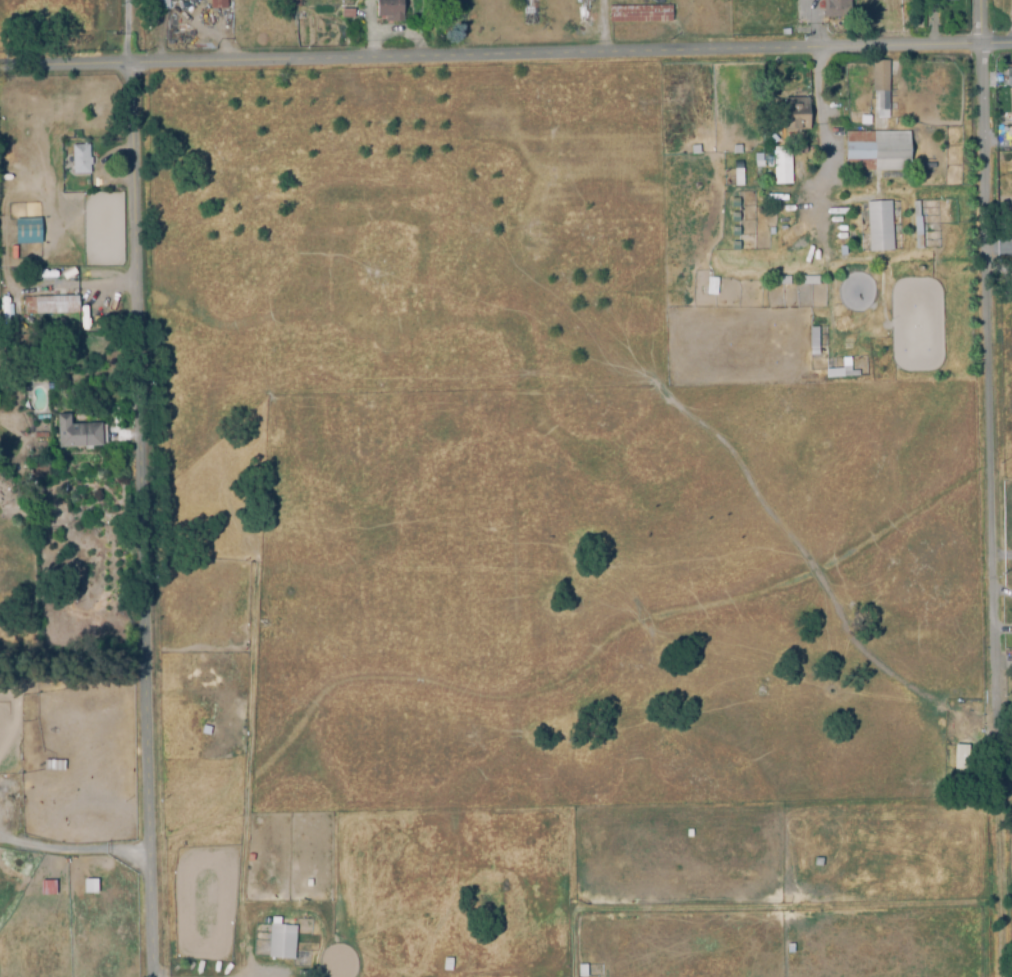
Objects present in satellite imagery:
building: (948, 0)
building: (217, 4)
building: (290, 4)
building: (160, 5)
building: (836, 9)
building: (389, 11)
building: (347, 15)
building: (640, 15)
road: (812, 24)
road: (694, 26)
road: (506, 57)
building: (1008, 79)
building: (879, 84)
building: (796, 115)
road: (818, 136)
building: (798, 149)
building: (877, 152)
building: (80, 160)
building: (781, 166)
building: (917, 216)
building: (1010, 228)
building: (881, 230)
building: (30, 234)
building: (773, 234)
road: (999, 271)
road: (998, 278)
building: (6, 281)
building: (784, 283)
building: (813, 283)
building: (710, 285)
building: (6, 297)
building: (50, 307)
building: (812, 340)
road: (994, 340)
building: (838, 370)
building: (77, 435)
road: (144, 488)
road: (983, 488)
road: (999, 558)
road: (1003, 719)
building: (207, 734)
building: (964, 762)
building: (54, 766)
road: (75, 849)
building: (251, 854)
building: (311, 881)
building: (89, 885)
building: (46, 887)
building: (284, 941)
building: (450, 960)
building: (582, 971)

